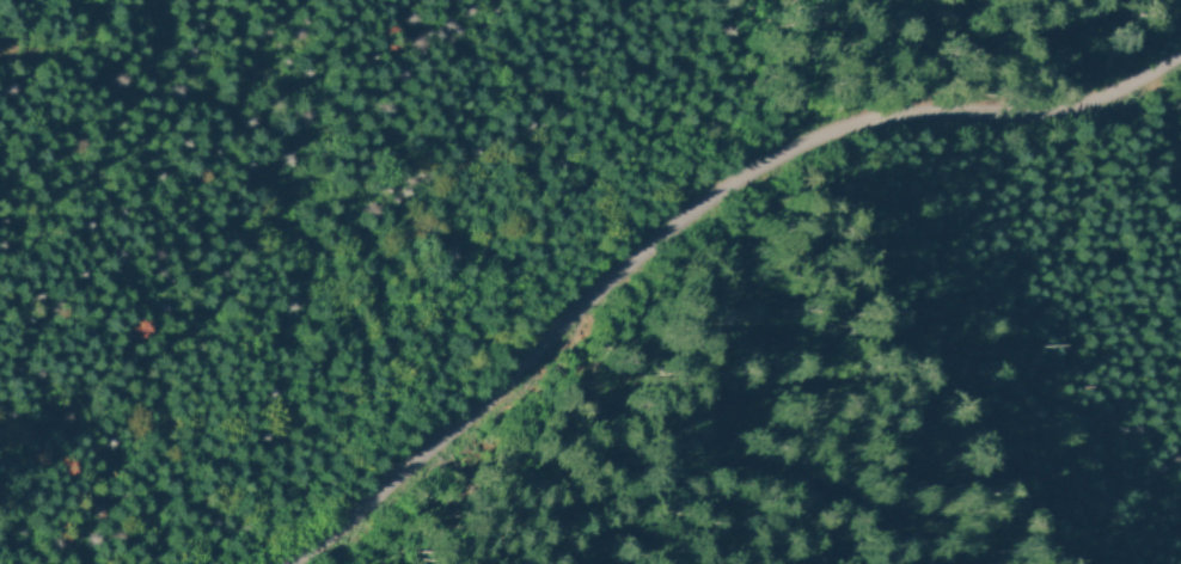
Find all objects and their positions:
road: (683, 222)

